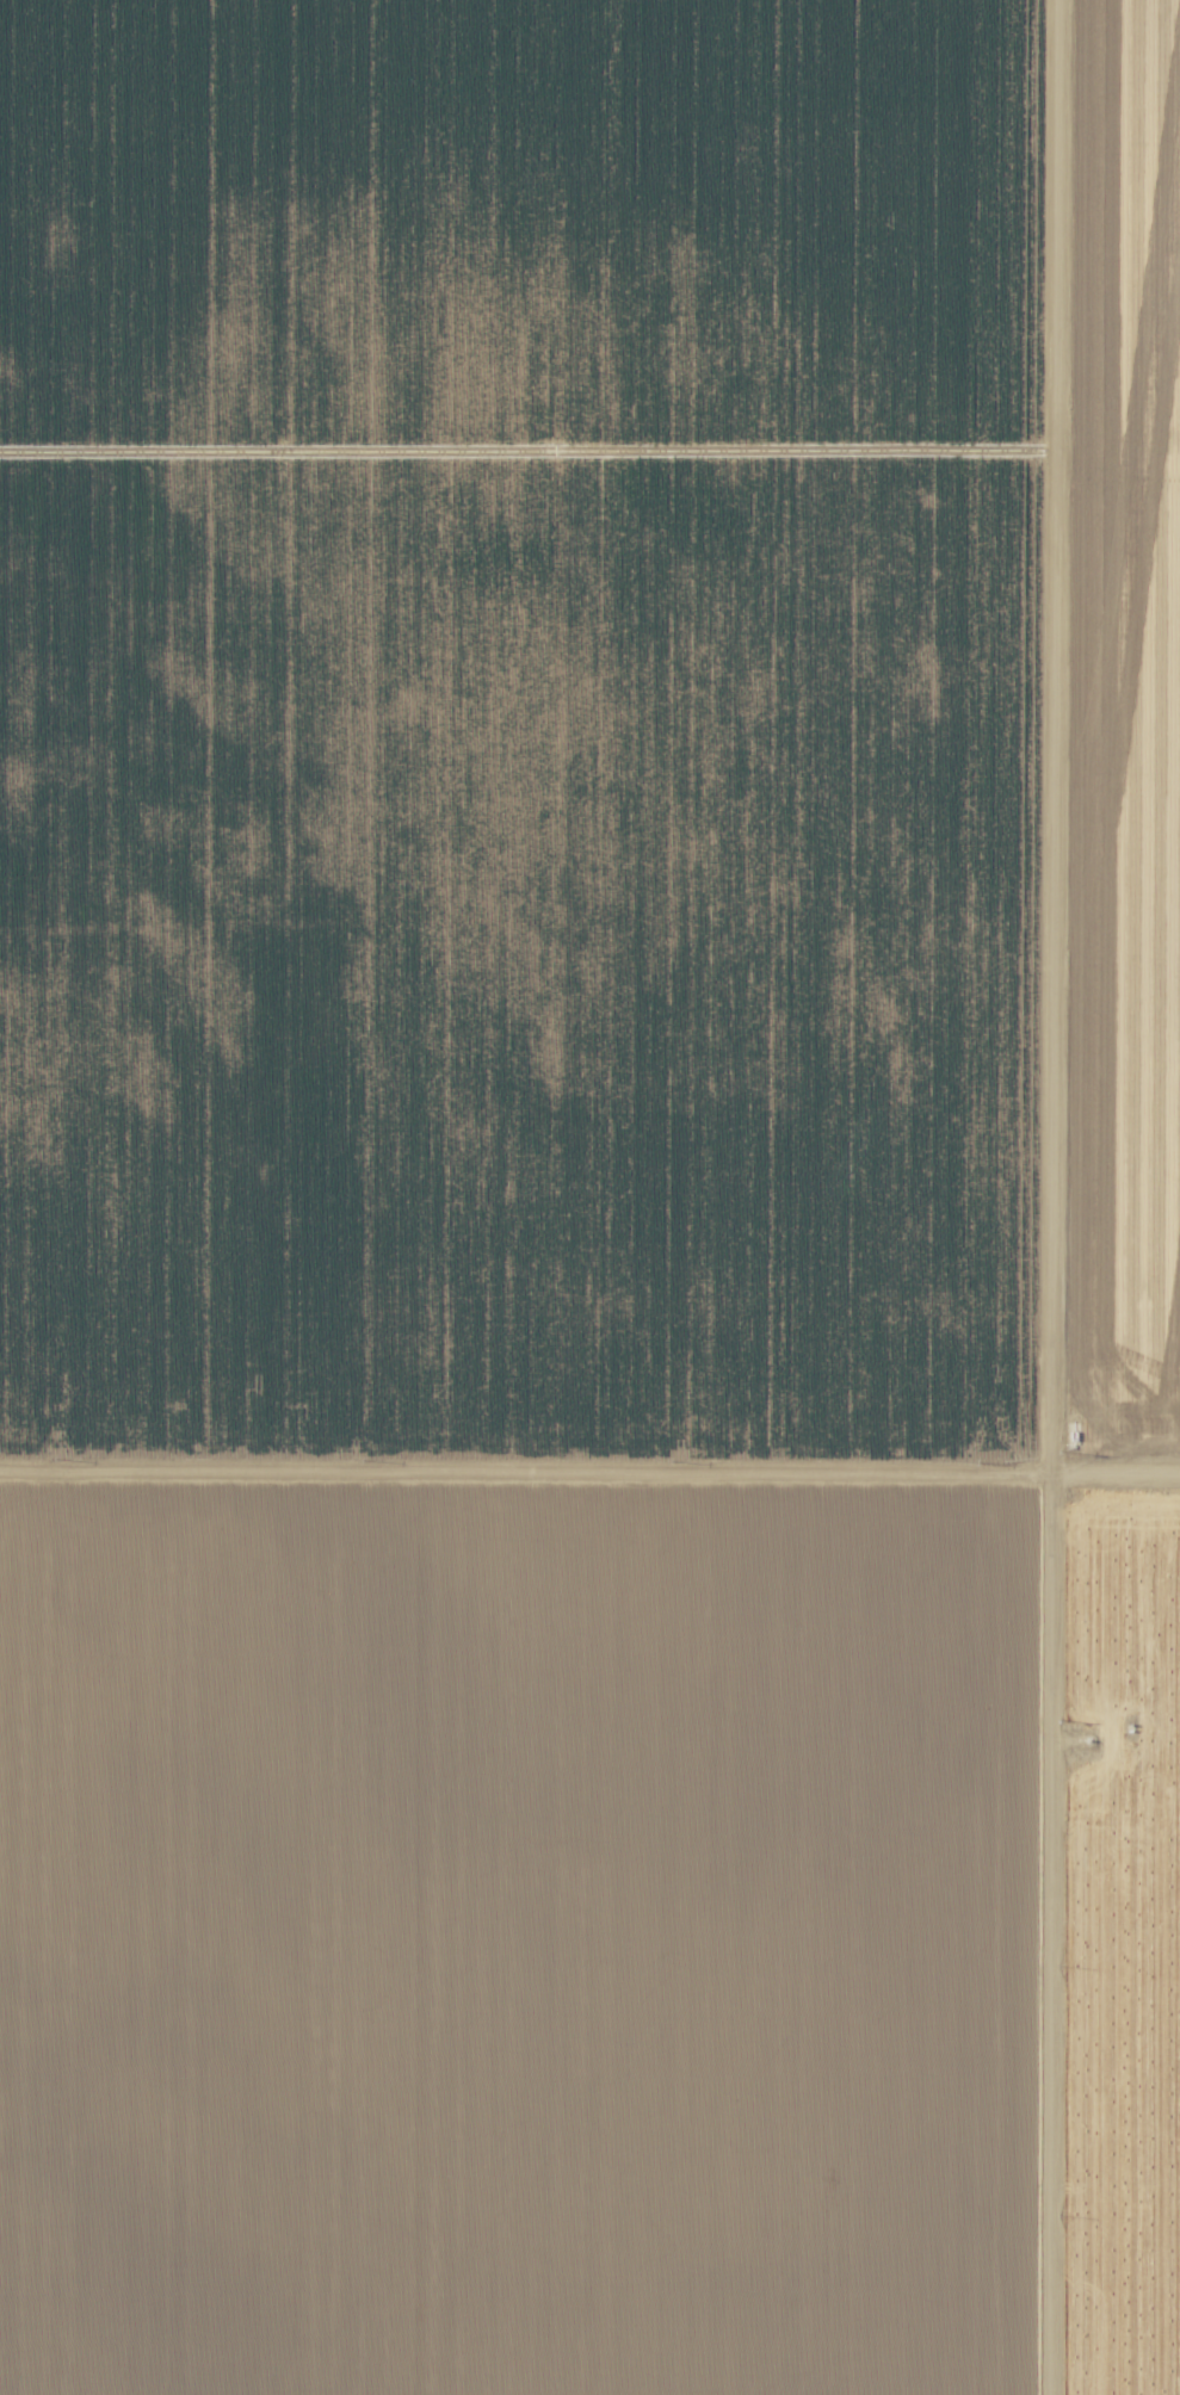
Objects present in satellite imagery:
road: (1059, 1196)

